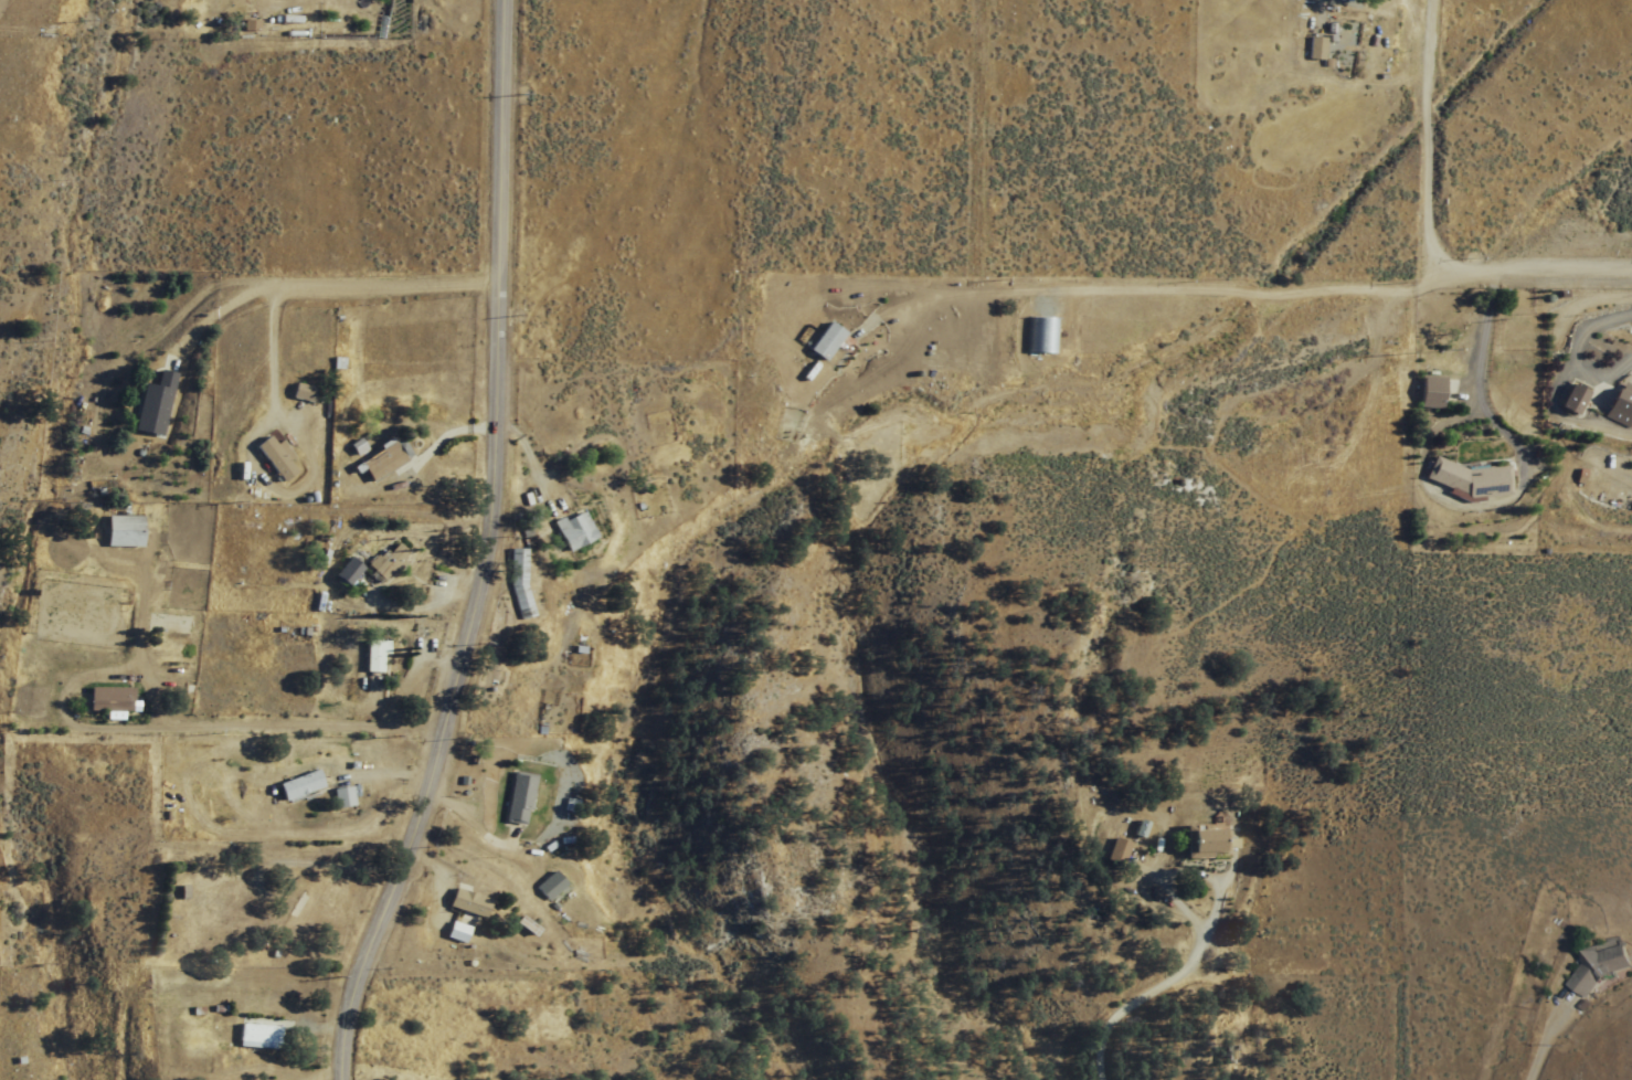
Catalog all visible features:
building: (1315, 47)
road: (1422, 151)
road: (1554, 271)
road: (301, 276)
road: (269, 328)
building: (1042, 335)
road: (1479, 373)
building: (299, 392)
building: (1430, 392)
building: (1572, 400)
building: (155, 404)
building: (1620, 404)
building: (272, 456)
building: (379, 459)
building: (1469, 478)
building: (121, 530)
building: (575, 530)
road: (480, 550)
building: (388, 559)
building: (345, 571)
building: (373, 656)
building: (107, 701)
building: (298, 785)
building: (342, 796)
building: (519, 798)
building: (1206, 841)
building: (1115, 851)
building: (553, 888)
building: (468, 902)
building: (458, 932)
building: (1599, 964)
building: (258, 1033)
building: (1229, 1051)

